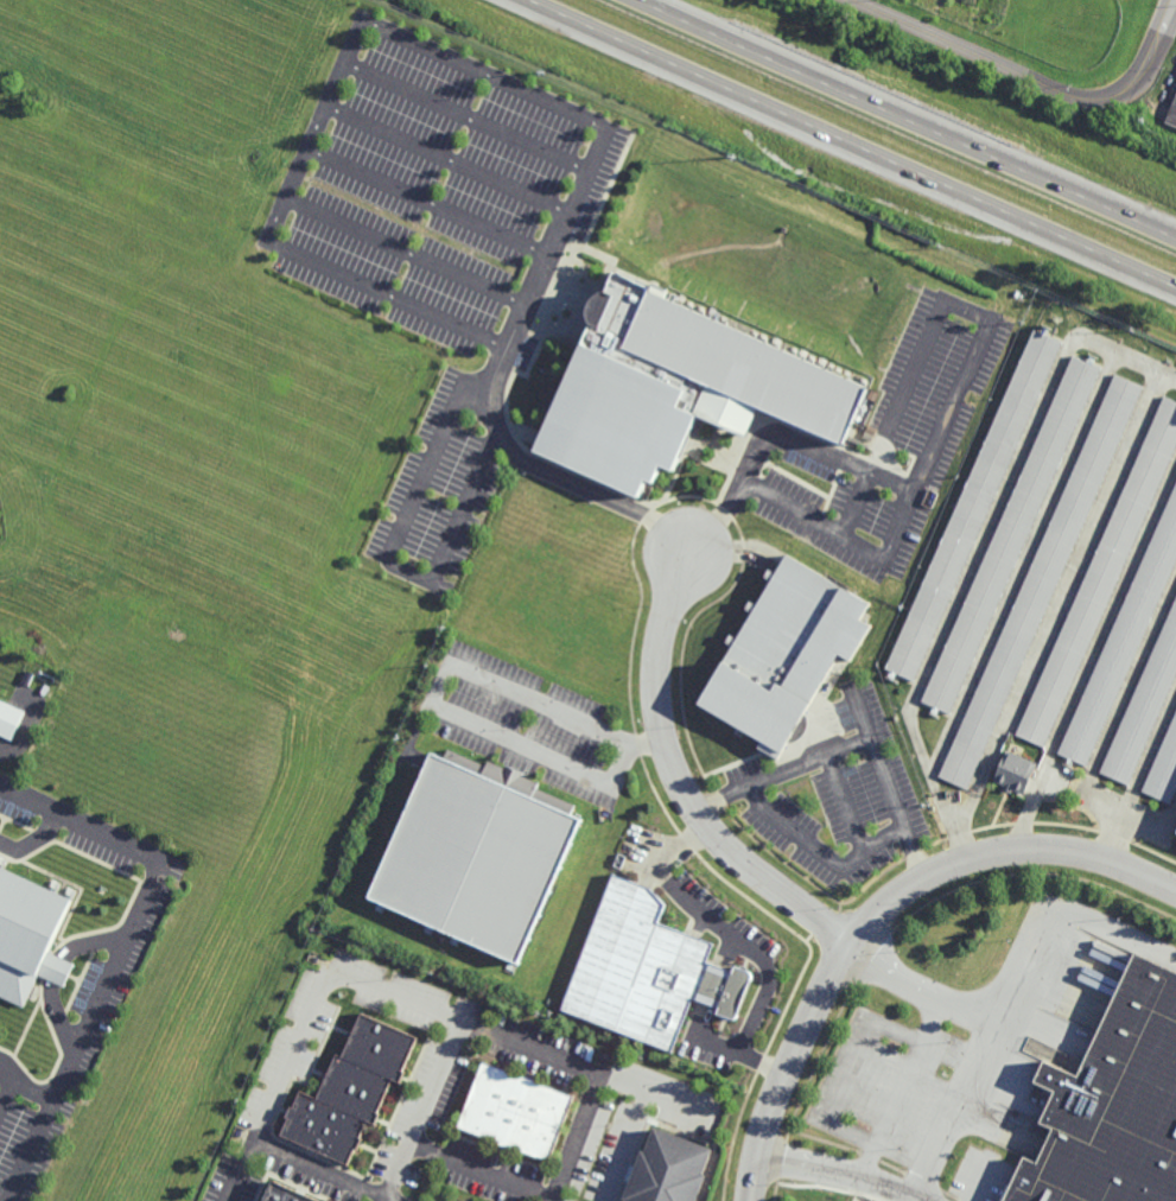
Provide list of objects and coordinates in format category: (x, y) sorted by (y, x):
road: (1036, 81)
building: (1158, 110)
building: (1171, 113)
road: (462, 117)
road: (909, 117)
road: (313, 127)
road: (853, 142)
road: (443, 160)
road: (425, 199)
road: (401, 253)
road: (496, 383)
building: (672, 387)
road: (929, 456)
road: (864, 484)
building: (973, 504)
building: (1011, 533)
road: (848, 540)
road: (983, 545)
road: (1023, 561)
road: (392, 564)
building: (1101, 574)
building: (1040, 580)
road: (1057, 604)
building: (1123, 637)
building: (783, 650)
road: (1092, 653)
building: (1144, 705)
road: (443, 713)
building: (9, 718)
road: (1106, 742)
road: (811, 767)
building: (1164, 768)
building: (1013, 771)
road: (1138, 775)
road: (682, 781)
building: (554, 800)
road: (848, 807)
road: (900, 811)
road: (31, 844)
road: (825, 857)
building: (468, 860)
road: (878, 910)
road: (129, 932)
building: (25, 935)
building: (646, 970)
road: (57, 973)
road: (770, 981)
road: (1012, 987)
road: (920, 990)
road: (403, 1002)
road: (762, 1063)
road: (852, 1073)
road: (900, 1086)
building: (348, 1091)
road: (5, 1095)
building: (1114, 1105)
building: (513, 1110)
road: (424, 1112)
road: (576, 1138)
road: (629, 1148)
road: (30, 1151)
building: (666, 1168)
road: (845, 1168)
road: (483, 1170)
road: (325, 1173)
road: (983, 1182)
road: (864, 1186)
building: (280, 1194)

